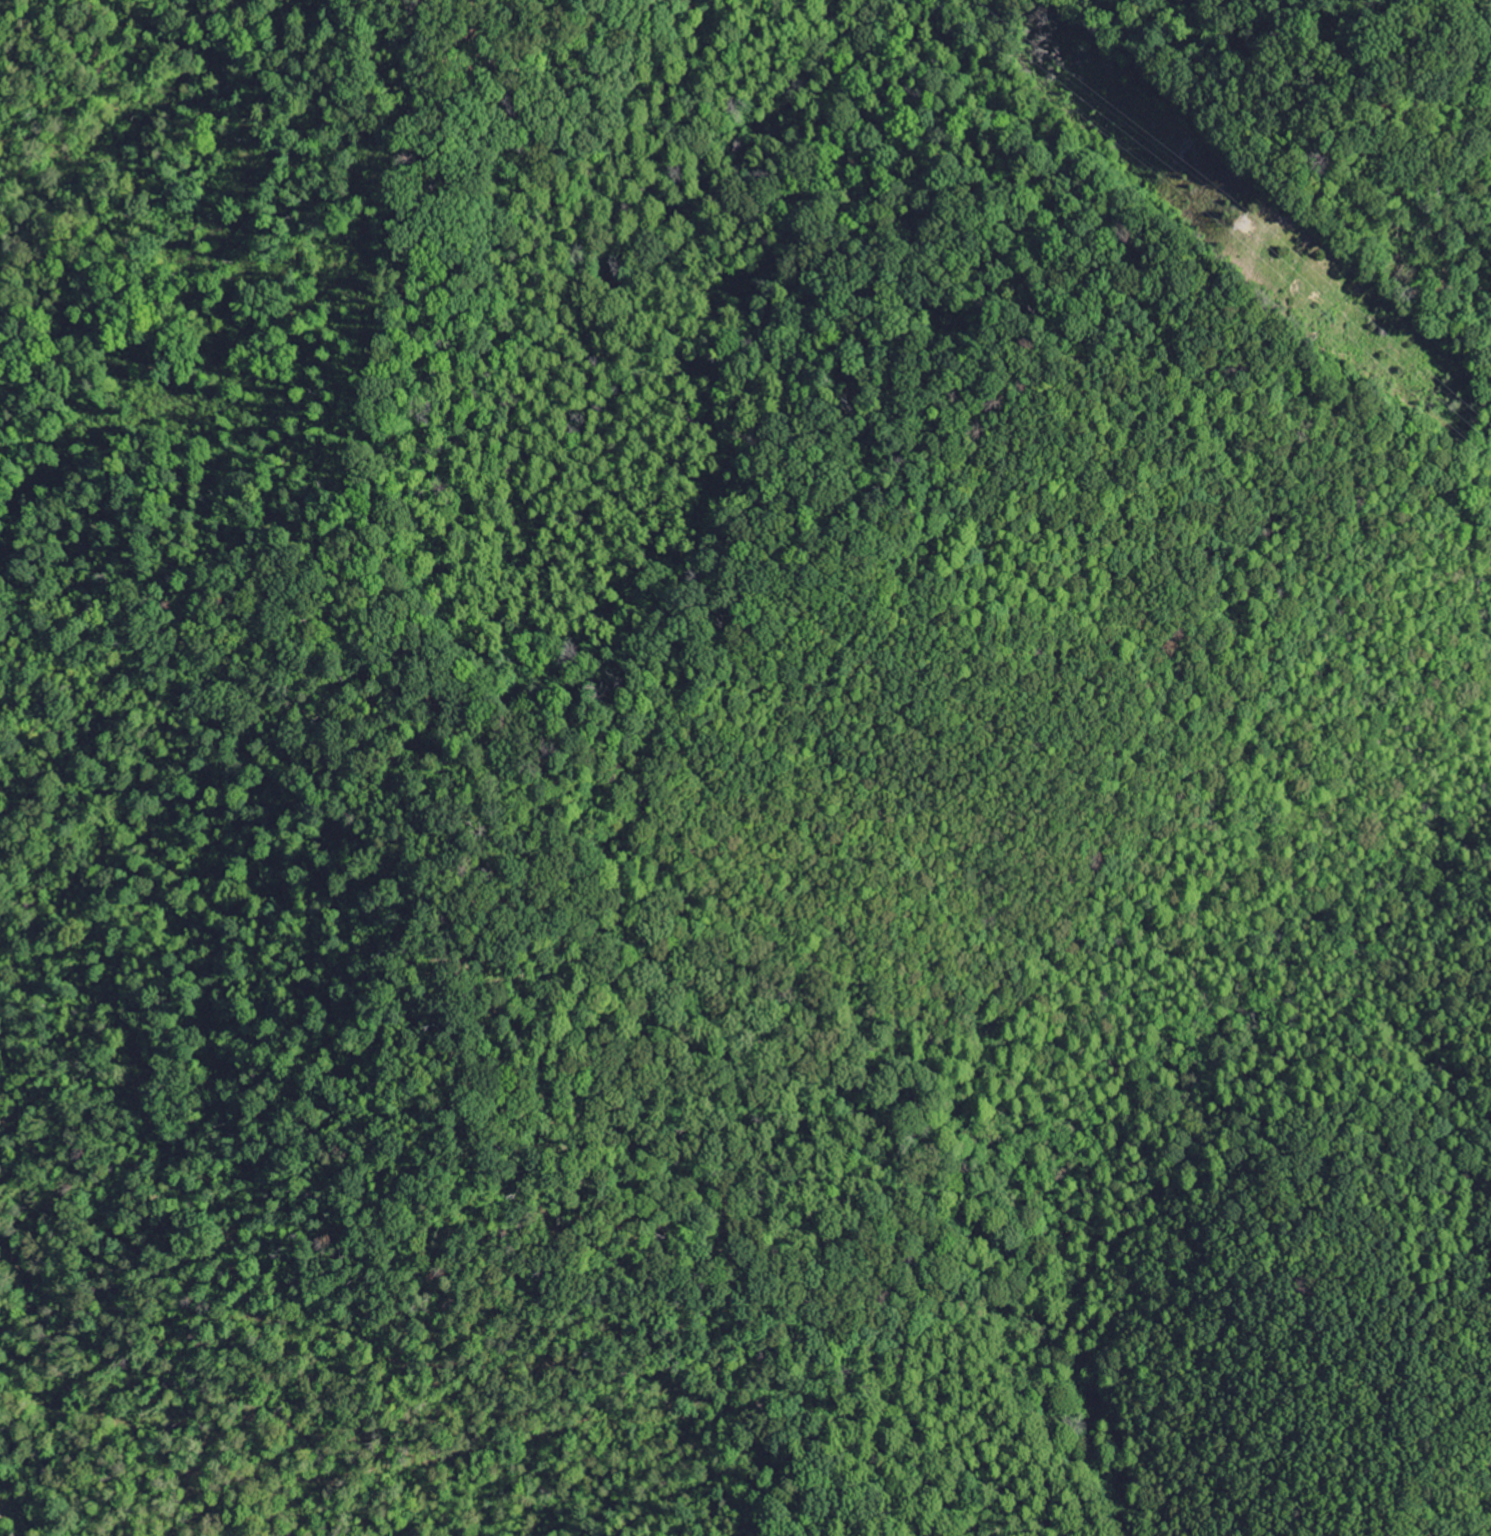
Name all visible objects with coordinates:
power tower: (1238, 224)

